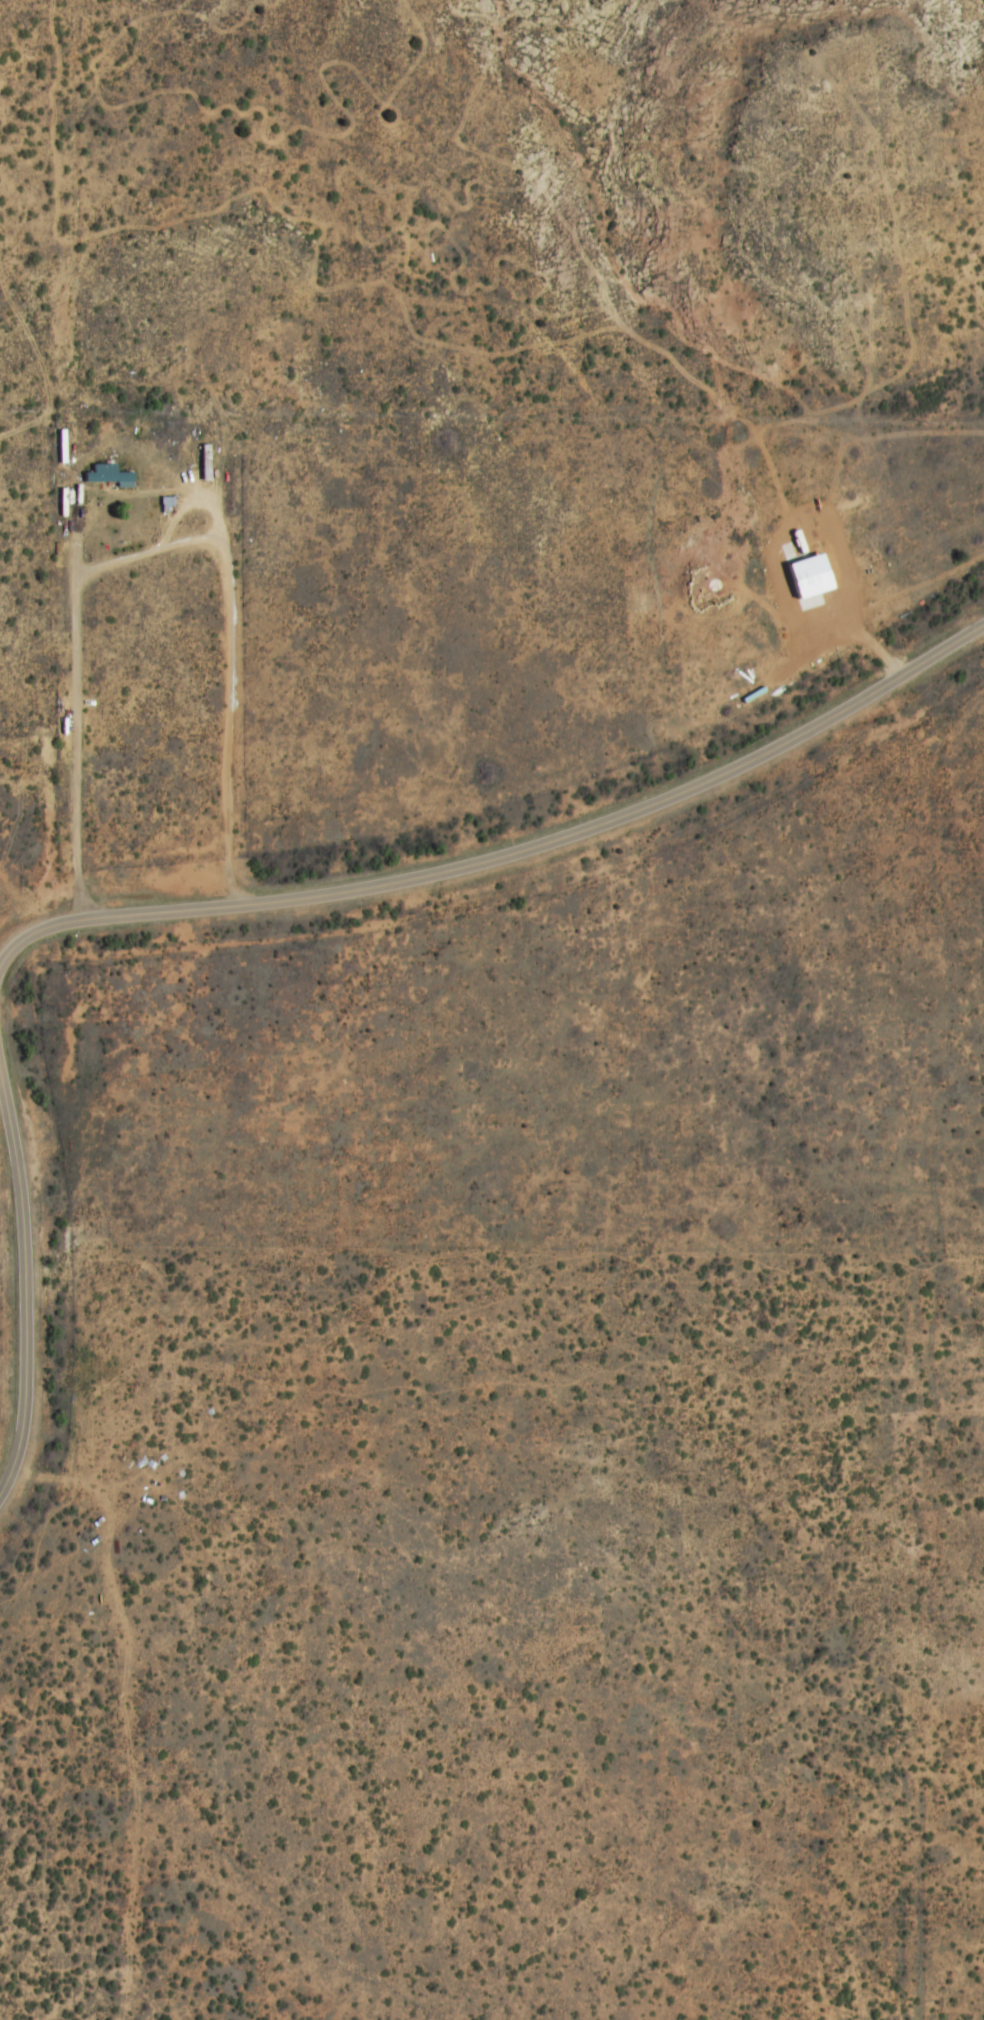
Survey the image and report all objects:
building: (108, 475)
road: (509, 854)
road: (3, 1108)
road: (23, 1289)

